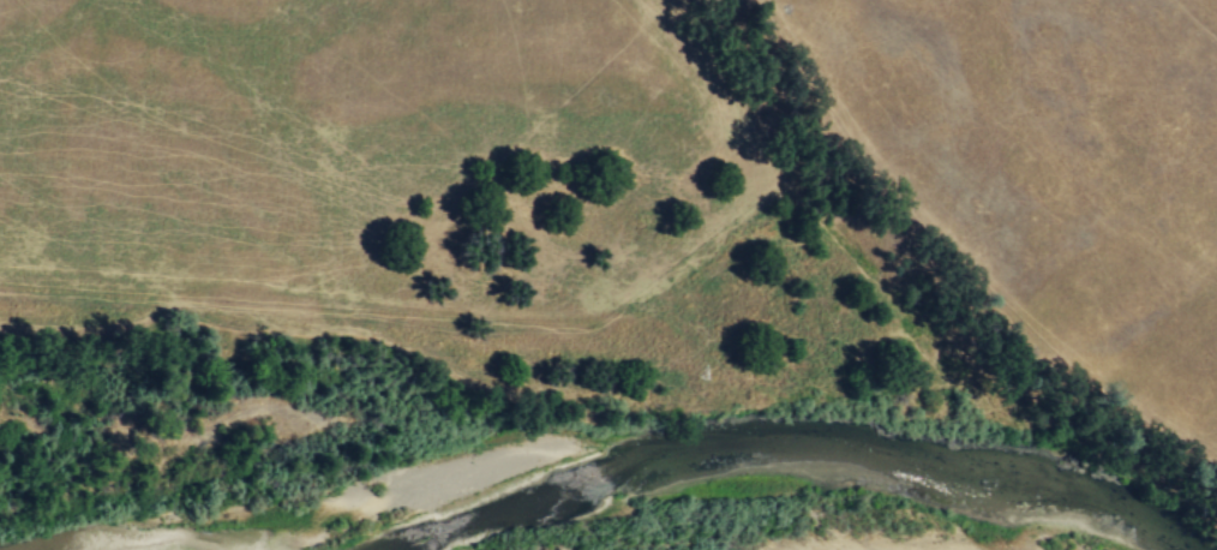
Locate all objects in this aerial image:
river: (687, 449)

